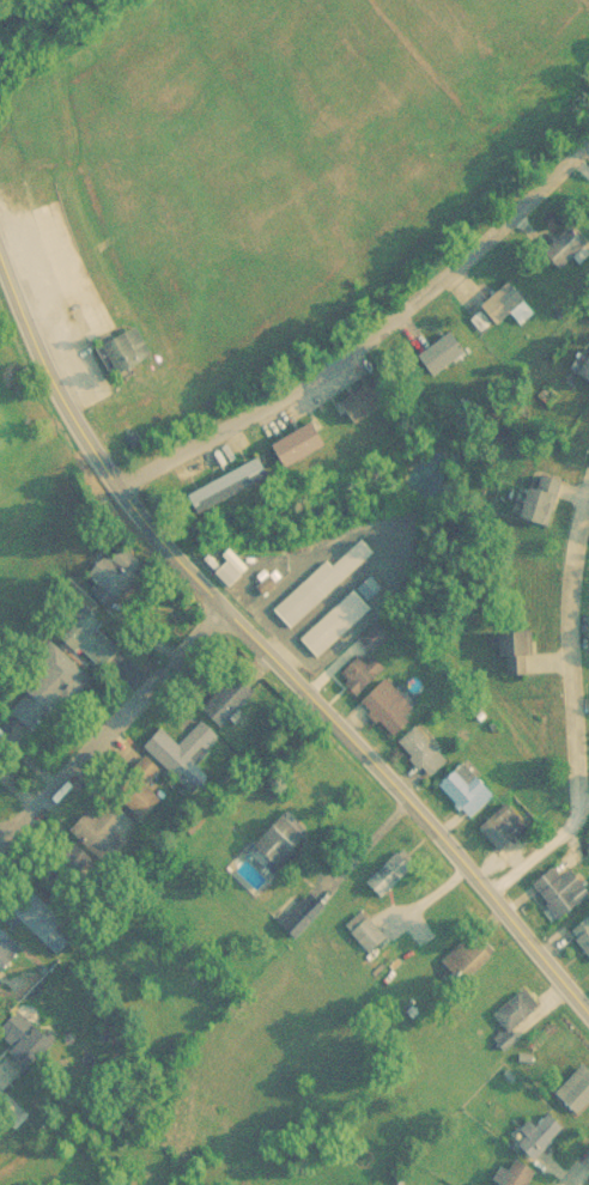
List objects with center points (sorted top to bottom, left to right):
building: (566, 247)
road: (53, 287)
building: (503, 302)
road: (363, 338)
building: (126, 351)
building: (442, 352)
building: (583, 364)
building: (372, 397)
building: (299, 443)
park: (29, 452)
building: (230, 482)
building: (535, 503)
building: (120, 571)
building: (229, 572)
building: (318, 585)
building: (334, 622)
building: (374, 636)
building: (93, 642)
building: (514, 651)
road: (273, 669)
building: (364, 670)
building: (48, 689)
building: (230, 698)
building: (389, 704)
road: (110, 722)
road: (571, 722)
building: (421, 749)
building: (182, 753)
building: (466, 788)
building: (139, 798)
building: (505, 821)
building: (103, 831)
building: (284, 839)
building: (389, 873)
building: (80, 887)
building: (560, 889)
building: (302, 914)
road: (548, 919)
building: (45, 925)
building: (365, 930)
building: (583, 934)
building: (7, 949)
building: (466, 956)
building: (514, 1015)
building: (26, 1041)
building: (576, 1088)
building: (538, 1135)
road: (577, 1172)
building: (516, 1174)

